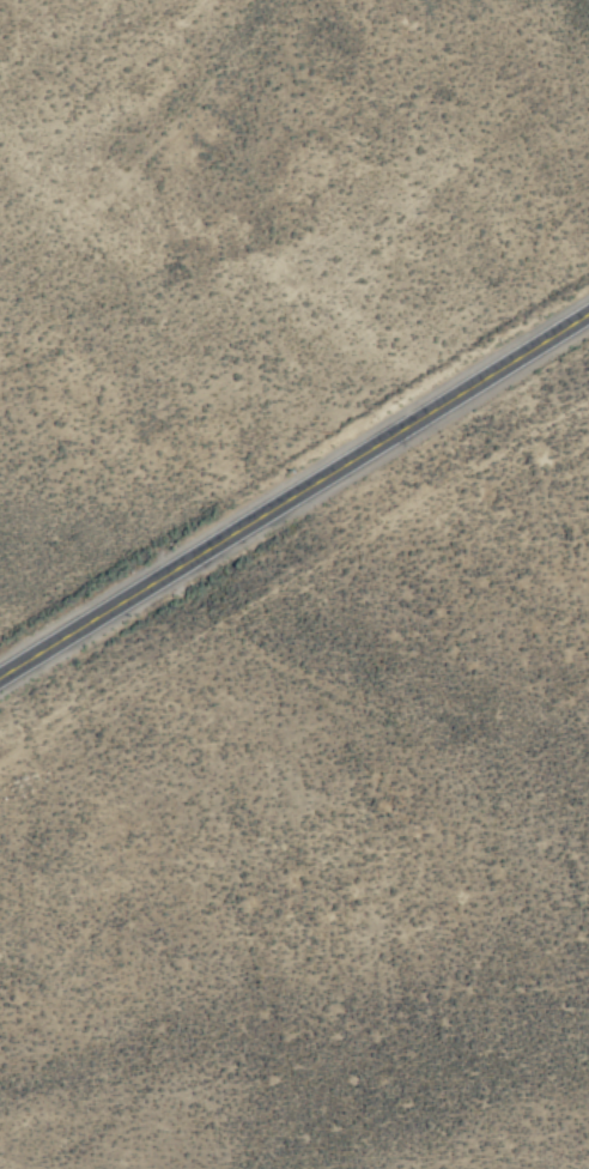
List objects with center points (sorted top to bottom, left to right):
road: (294, 492)

